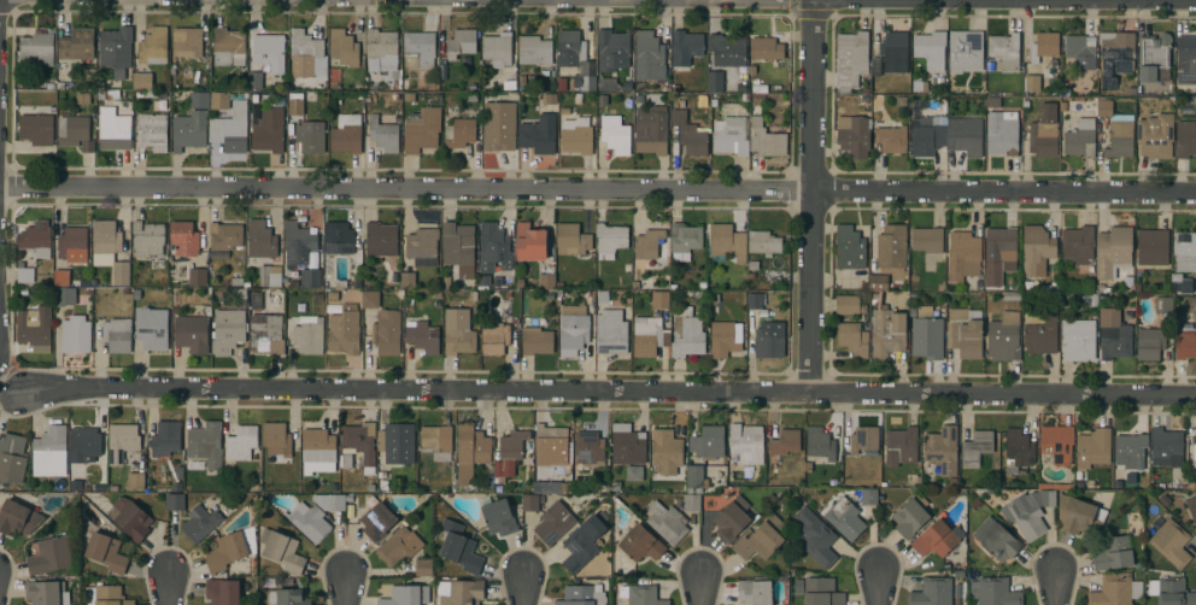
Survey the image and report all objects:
building: (187, 41)
building: (462, 42)
building: (76, 43)
building: (153, 46)
building: (229, 46)
building: (344, 47)
building: (381, 47)
building: (497, 47)
building: (569, 47)
building: (685, 47)
building: (1044, 47)
building: (1080, 47)
building: (36, 48)
building: (766, 48)
building: (116, 49)
building: (418, 49)
building: (534, 49)
building: (612, 49)
building: (727, 49)
building: (1004, 49)
building: (931, 51)
building: (965, 51)
building: (1116, 51)
building: (270, 52)
building: (304, 52)
building: (890, 53)
building: (649, 55)
building: (1154, 55)
building: (851, 59)
building: (1185, 59)
building: (142, 81)
building: (256, 81)
building: (715, 81)
building: (1032, 82)
building: (587, 83)
building: (606, 83)
building: (561, 84)
building: (198, 99)
building: (549, 99)
building: (219, 100)
building: (295, 102)
building: (498, 125)
building: (36, 128)
building: (231, 128)
building: (113, 129)
building: (651, 129)
building: (152, 130)
building: (189, 130)
building: (422, 130)
building: (1118, 130)
building: (269, 131)
building: (1044, 131)
building: (75, 133)
building: (459, 133)
building: (1002, 133)
building: (346, 134)
building: (383, 134)
building: (615, 134)
building: (690, 134)
building: (927, 134)
building: (538, 135)
building: (576, 135)
building: (731, 135)
building: (854, 135)
building: (965, 135)
building: (1155, 136)
building: (310, 137)
building: (766, 139)
building: (1080, 139)
building: (1185, 139)
building: (890, 140)
road: (597, 190)
road: (813, 195)
building: (36, 237)
building: (148, 237)
building: (184, 237)
building: (224, 237)
building: (339, 237)
building: (260, 239)
building: (381, 239)
building: (571, 239)
building: (610, 239)
building: (105, 240)
building: (684, 240)
building: (530, 242)
building: (727, 242)
building: (764, 242)
building: (928, 242)
building: (72, 243)
building: (298, 243)
building: (457, 243)
building: (1078, 243)
building: (1001, 245)
building: (423, 246)
building: (850, 247)
building: (1153, 247)
building: (494, 248)
building: (651, 249)
building: (892, 249)
building: (1036, 249)
building: (1113, 251)
building: (1185, 251)
building: (963, 255)
building: (25, 274)
building: (121, 274)
building: (198, 276)
building: (61, 277)
building: (269, 277)
building: (310, 277)
building: (408, 280)
building: (485, 281)
building: (546, 281)
building: (878, 282)
building: (1182, 284)
building: (64, 295)
building: (1012, 295)
building: (370, 299)
building: (661, 299)
building: (755, 300)
building: (848, 304)
building: (1162, 304)
building: (35, 328)
building: (153, 328)
building: (228, 329)
building: (573, 329)
building: (344, 330)
building: (386, 331)
building: (611, 331)
building: (887, 331)
building: (965, 331)
building: (190, 333)
building: (266, 333)
building: (686, 333)
building: (76, 334)
building: (422, 334)
building: (1042, 334)
building: (117, 335)
building: (458, 335)
building: (537, 335)
building: (649, 335)
building: (1114, 335)
building: (306, 336)
building: (1004, 336)
building: (494, 337)
building: (927, 337)
building: (723, 339)
building: (852, 339)
building: (1185, 341)
building: (1150, 342)
building: (768, 343)
building: (1078, 346)
road: (610, 390)
building: (166, 437)
building: (276, 437)
building: (435, 439)
building: (86, 440)
building: (204, 440)
building: (863, 440)
building: (1194, 440)
building: (122, 441)
building: (708, 441)
building: (786, 441)
building: (241, 442)
building: (397, 442)
building: (746, 442)
building: (820, 442)
building: (1057, 442)
building: (360, 444)
building: (627, 444)
building: (550, 446)
building: (902, 446)
building: (590, 447)
building: (975, 447)
building: (1094, 447)
building: (1166, 447)
building: (942, 448)
building: (1018, 450)
building: (1130, 450)
building: (318, 451)
building: (470, 451)
building: (667, 451)
building: (49, 452)
building: (509, 453)
building: (12, 457)
building: (634, 472)
building: (694, 478)
building: (135, 480)
building: (869, 497)
building: (351, 498)
building: (175, 501)
building: (329, 501)
building: (530, 501)
building: (691, 501)
building: (1028, 511)
building: (1192, 512)
building: (1079, 515)
building: (498, 516)
building: (910, 516)
building: (18, 517)
building: (130, 517)
building: (732, 518)
building: (844, 518)
building: (377, 521)
building: (556, 521)
building: (664, 521)
building: (311, 522)
building: (200, 523)
building: (815, 536)
building: (761, 539)
building: (937, 539)
building: (997, 539)
building: (640, 542)
building: (1172, 542)
building: (399, 546)
building: (231, 547)
building: (459, 547)
building: (579, 548)
building: (282, 550)
building: (107, 551)
building: (1115, 552)
building: (51, 554)
building: (424, 566)
road: (347, 588)
road: (526, 588)
road: (703, 588)
road: (880, 588)
road: (1057, 588)
road: (170, 589)
building: (1115, 589)
building: (223, 591)
building: (817, 591)
building: (1172, 591)
building: (43, 592)
building: (463, 592)
building: (755, 592)
building: (932, 592)
building: (997, 592)
building: (582, 594)
building: (106, 595)
building: (406, 595)
building: (644, 595)
building: (287, 597)

